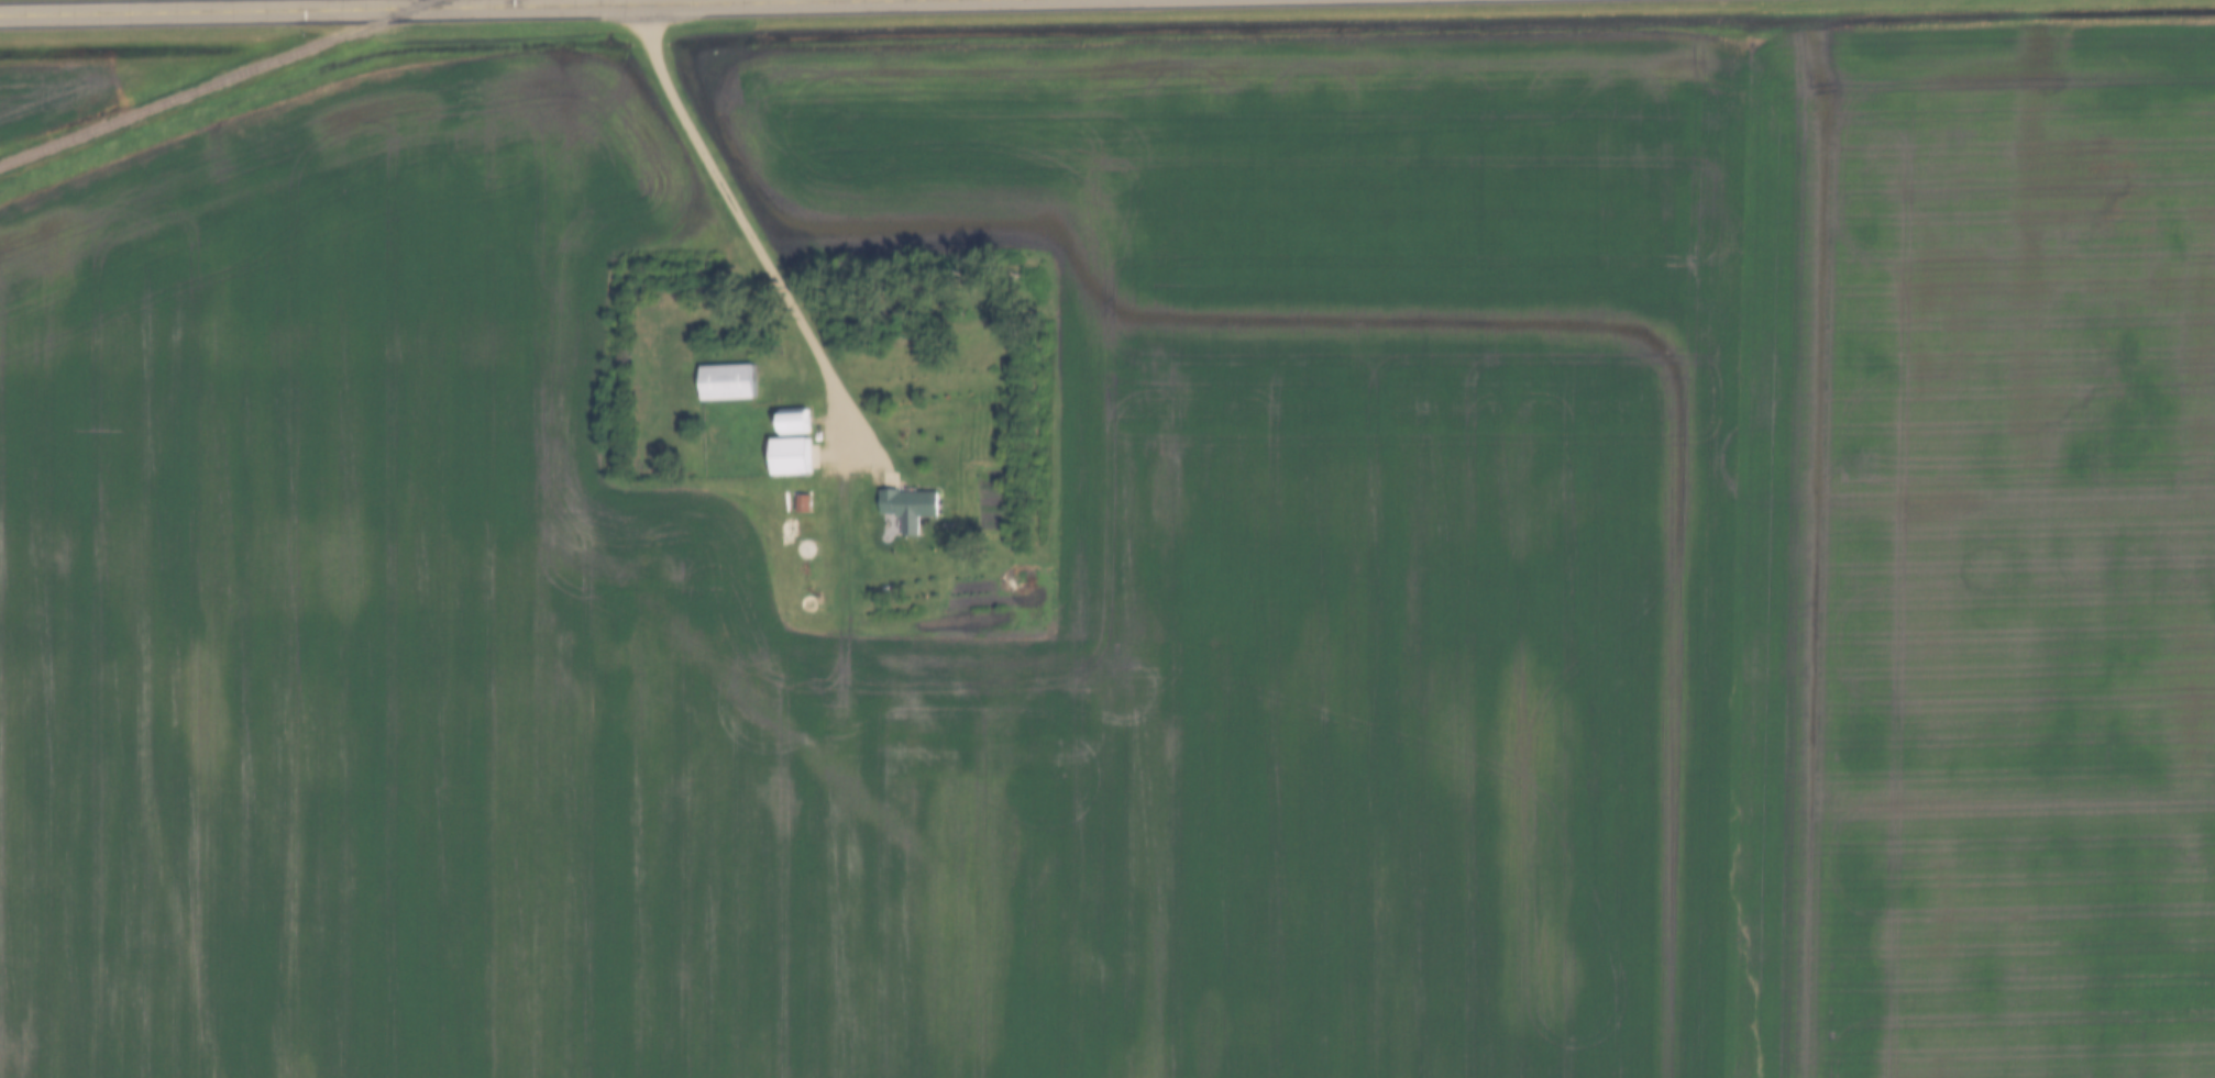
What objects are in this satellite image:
road: (388, 9)
railway: (217, 84)
road: (751, 232)
building: (731, 382)
building: (796, 444)
building: (912, 503)

